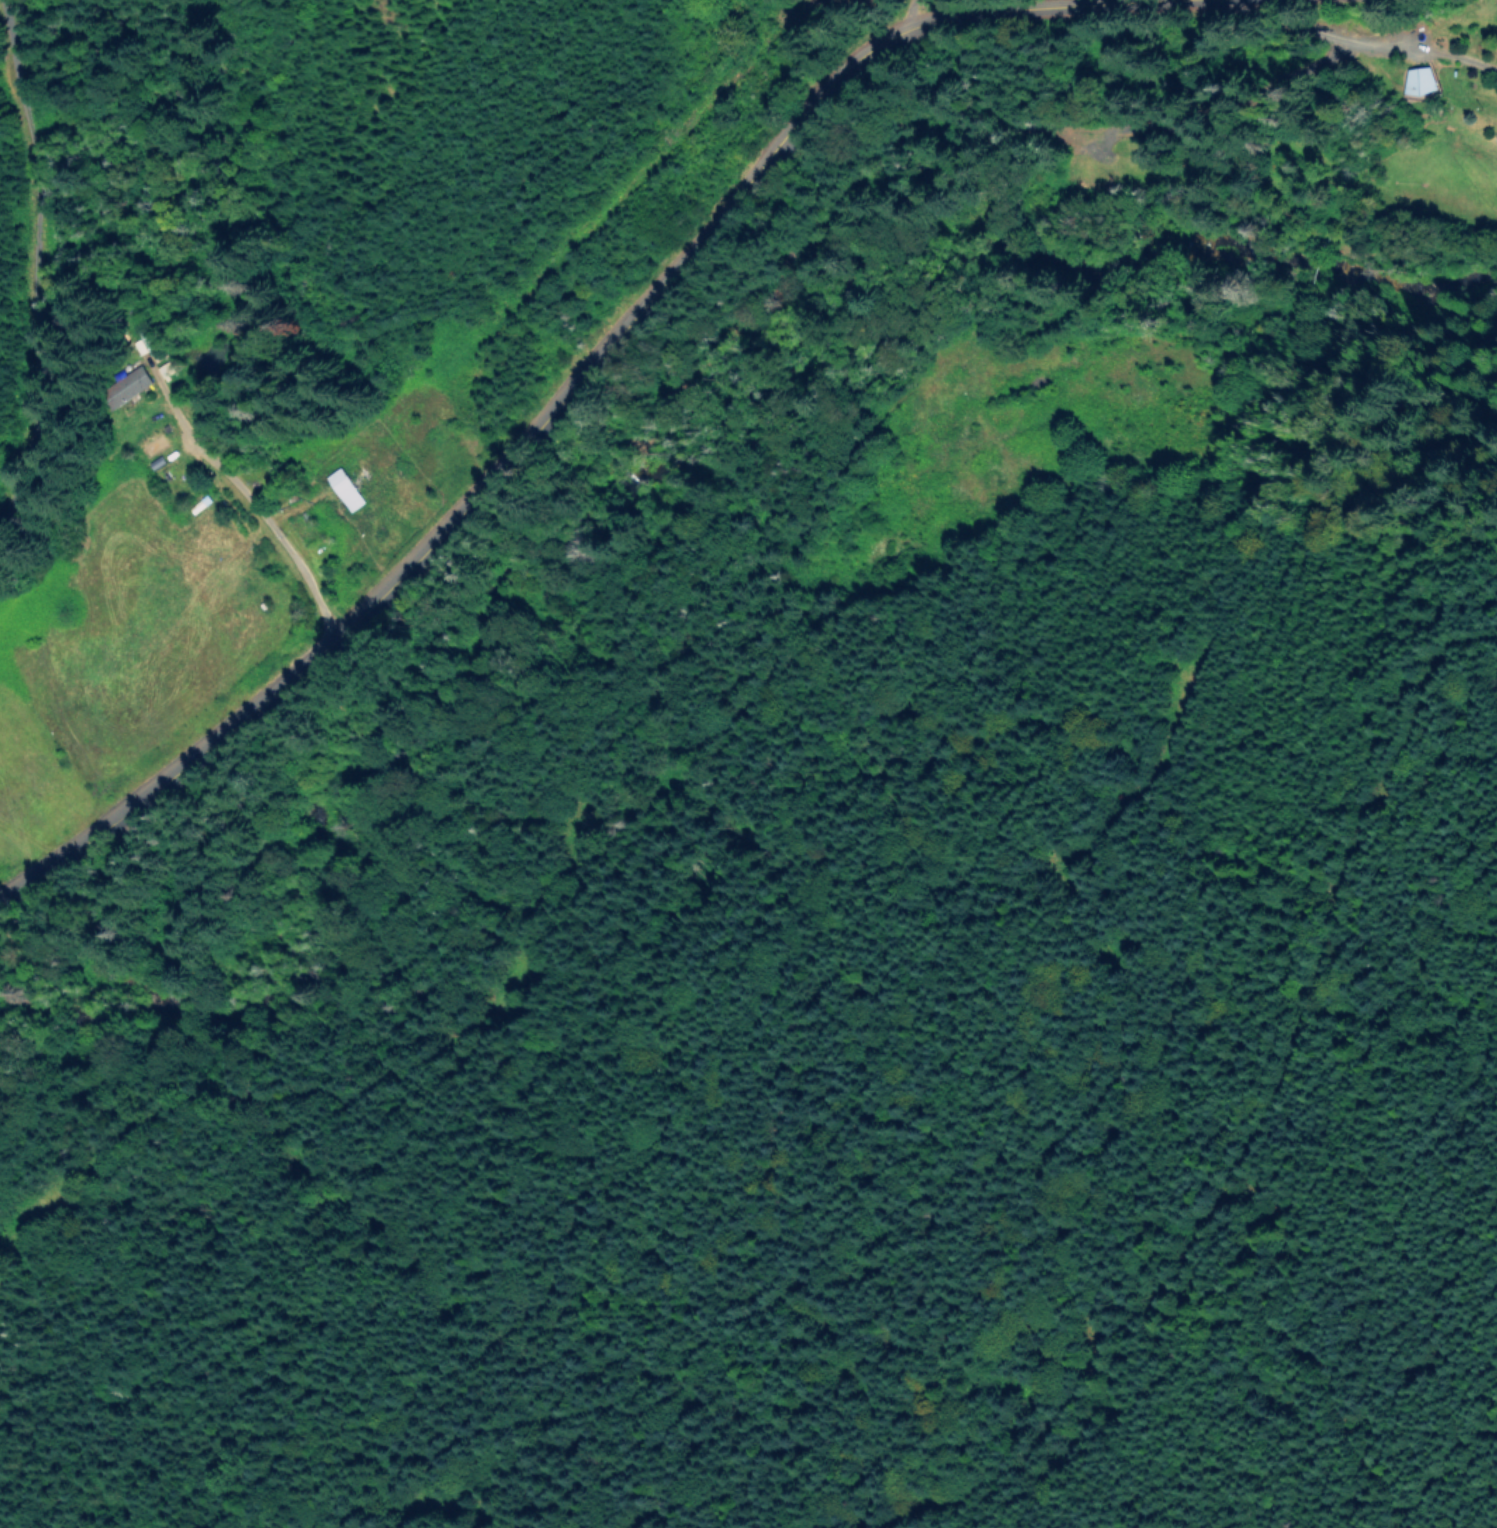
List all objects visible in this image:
road: (1388, 45)
road: (549, 414)
road: (257, 516)

